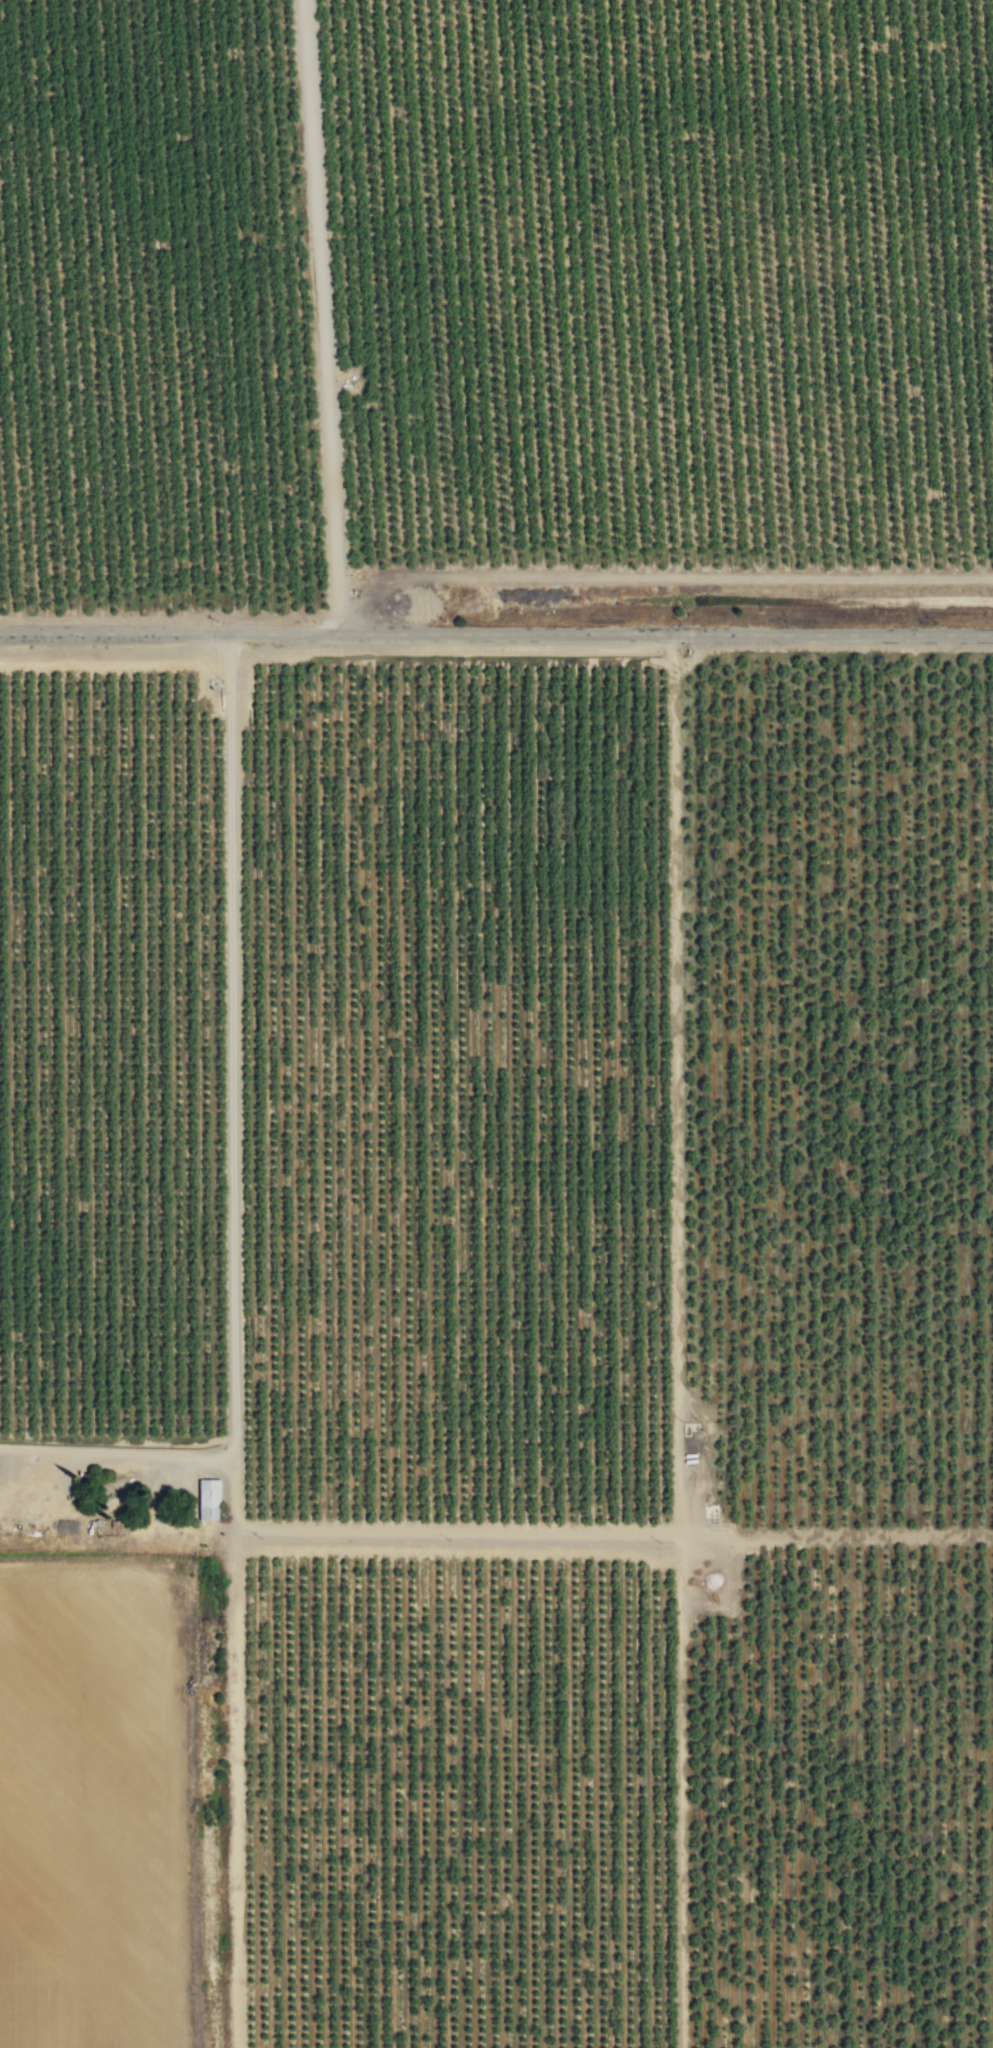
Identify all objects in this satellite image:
road: (323, 316)
road: (496, 633)
road: (292, 1046)
road: (5, 1278)
building: (207, 1499)

